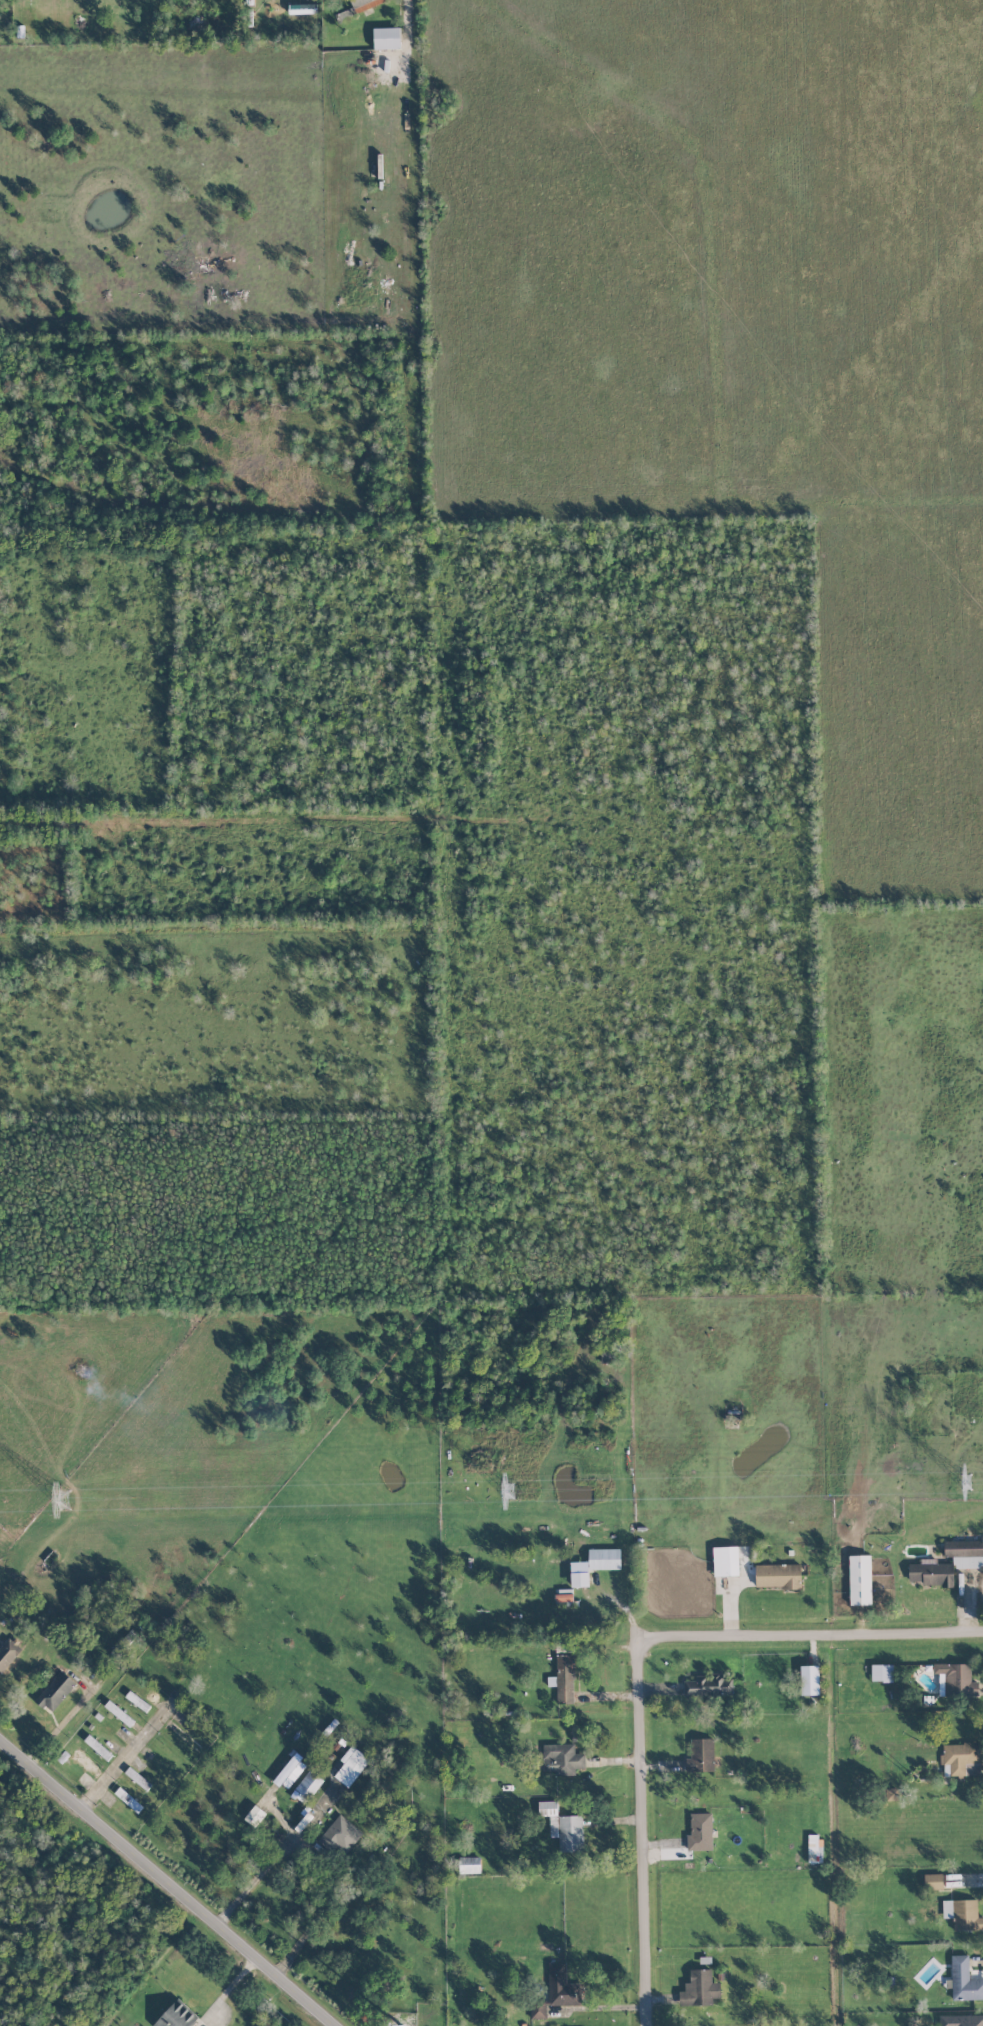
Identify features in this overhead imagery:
building: (386, 38)
power tower: (966, 1483)
power tower: (509, 1492)
power tower: (64, 1499)
building: (965, 1553)
building: (726, 1561)
building: (594, 1565)
building: (931, 1574)
building: (778, 1576)
building: (860, 1579)
road: (817, 1638)
building: (8, 1653)
building: (881, 1672)
building: (564, 1678)
building: (810, 1679)
building: (957, 1679)
building: (708, 1686)
building: (55, 1691)
building: (119, 1713)
road: (61, 1720)
building: (98, 1747)
road: (125, 1754)
building: (701, 1755)
building: (563, 1759)
building: (961, 1759)
building: (85, 1762)
building: (351, 1766)
building: (290, 1771)
building: (308, 1785)
building: (128, 1799)
building: (700, 1831)
building: (341, 1835)
road: (651, 1837)
building: (470, 1864)
building: (933, 1881)
road: (253, 1882)
road: (166, 1883)
building: (962, 1914)
road: (318, 1916)
building: (562, 1986)
building: (700, 1988)
building: (539, 2010)
building: (177, 2015)
building: (961, 2020)

